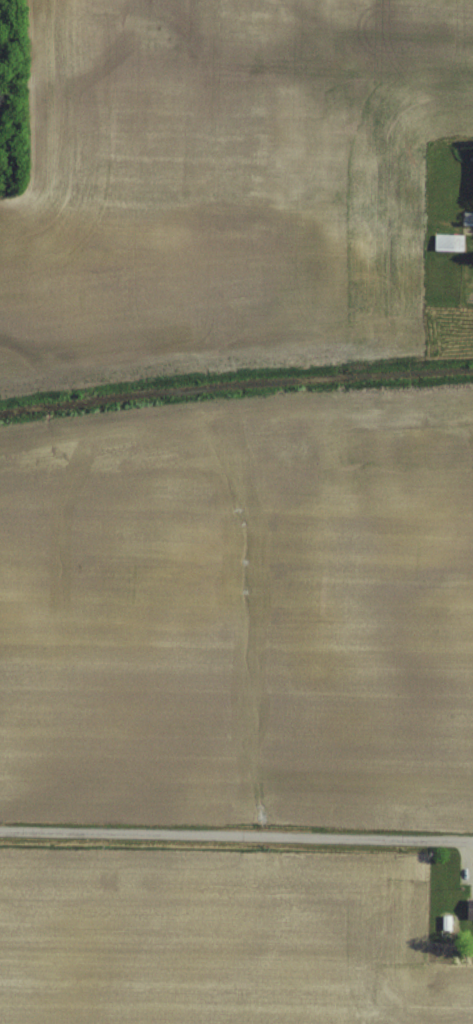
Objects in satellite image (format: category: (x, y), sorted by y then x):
road: (236, 838)

